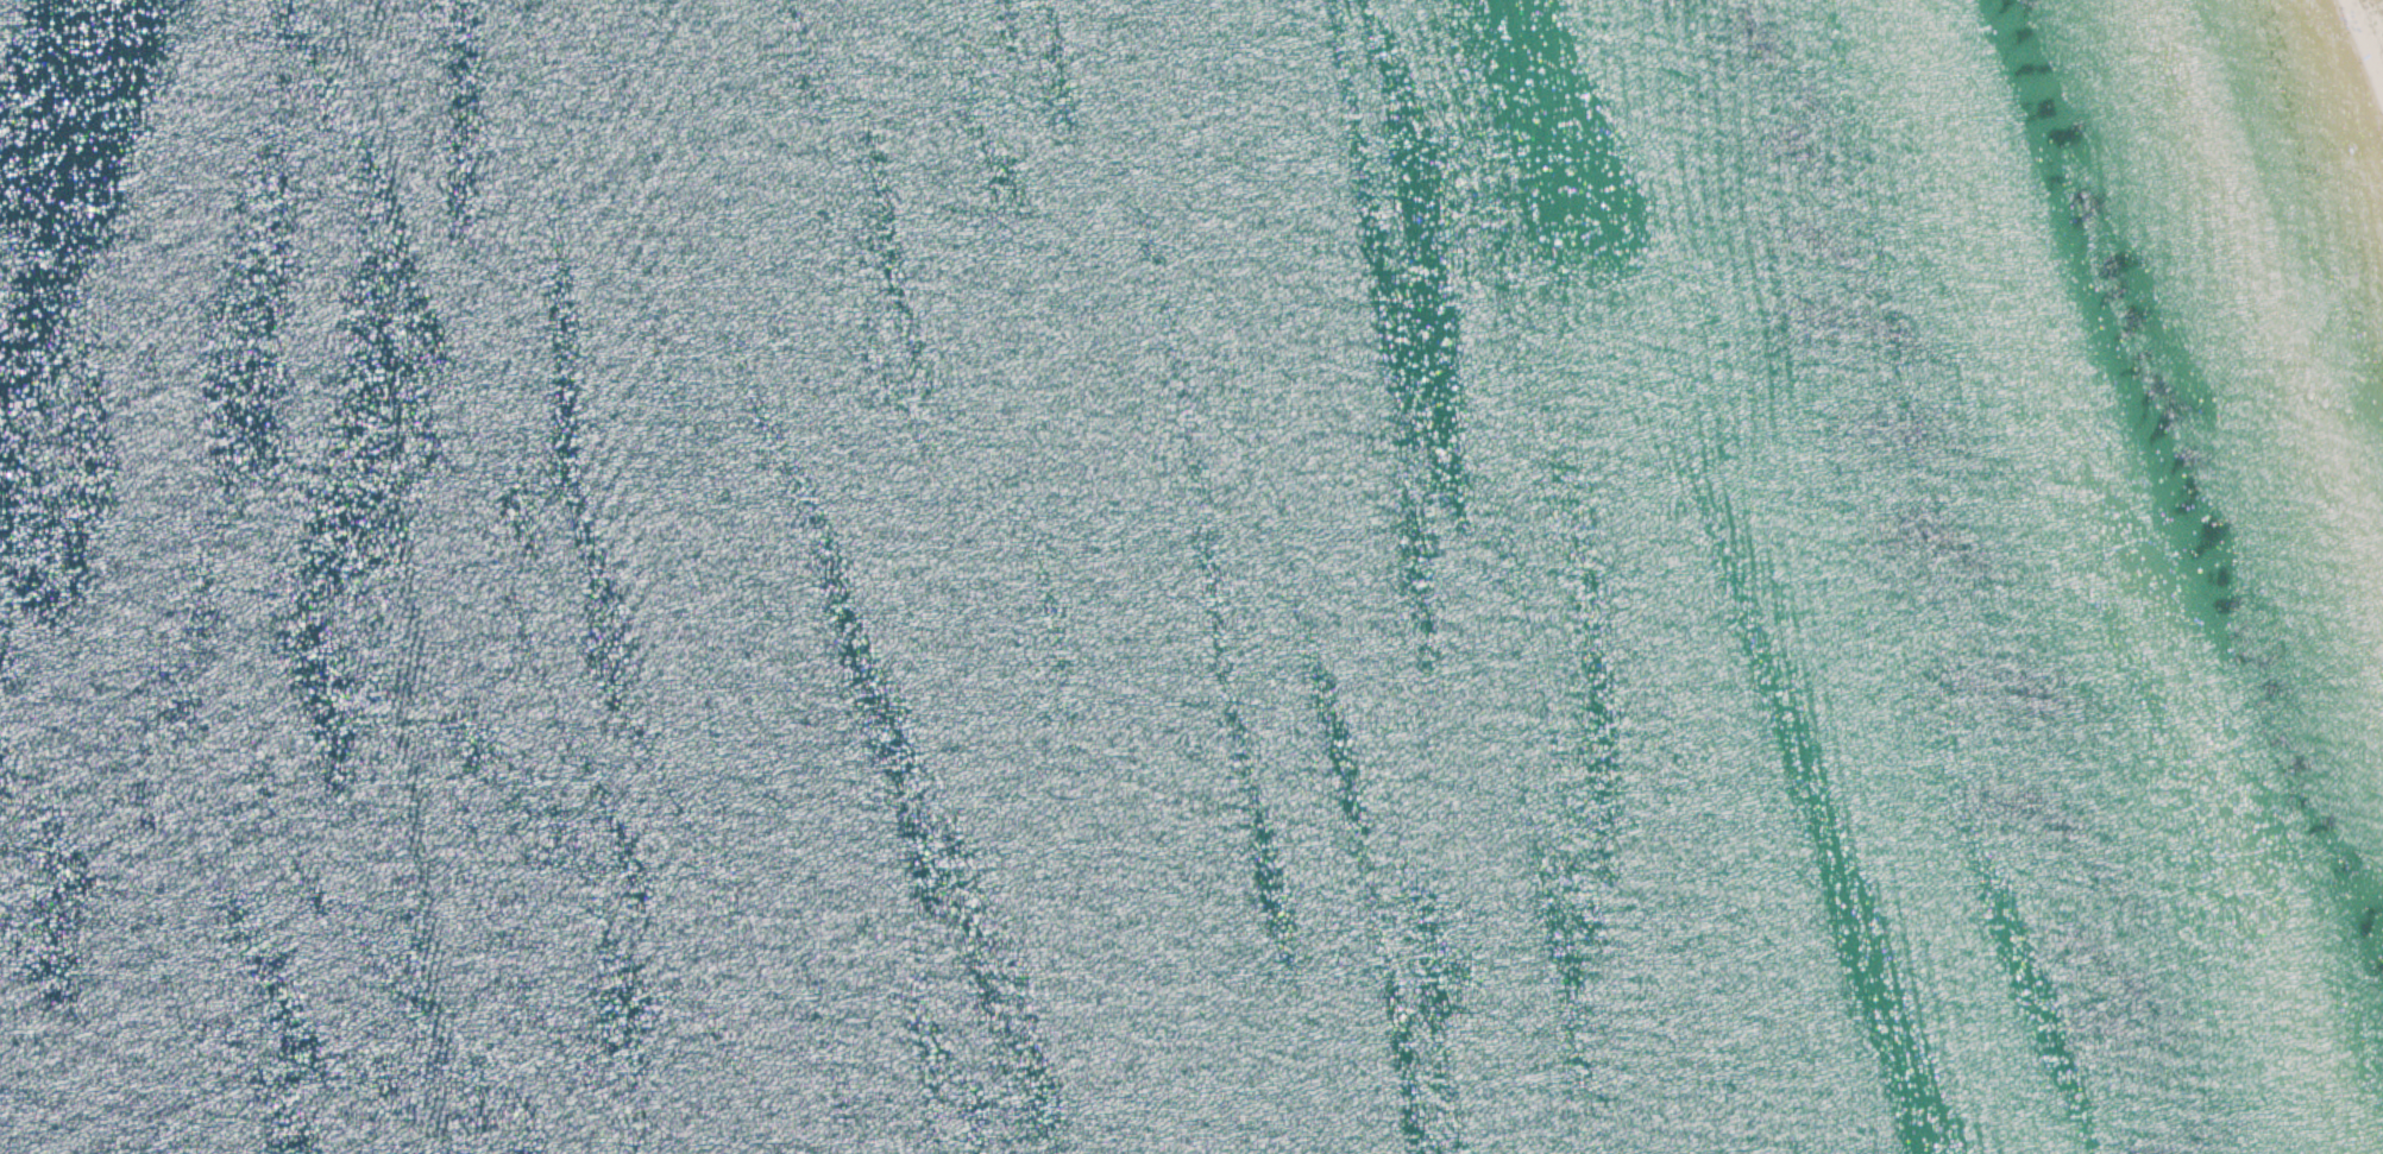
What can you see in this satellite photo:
park: (2329, 135)

